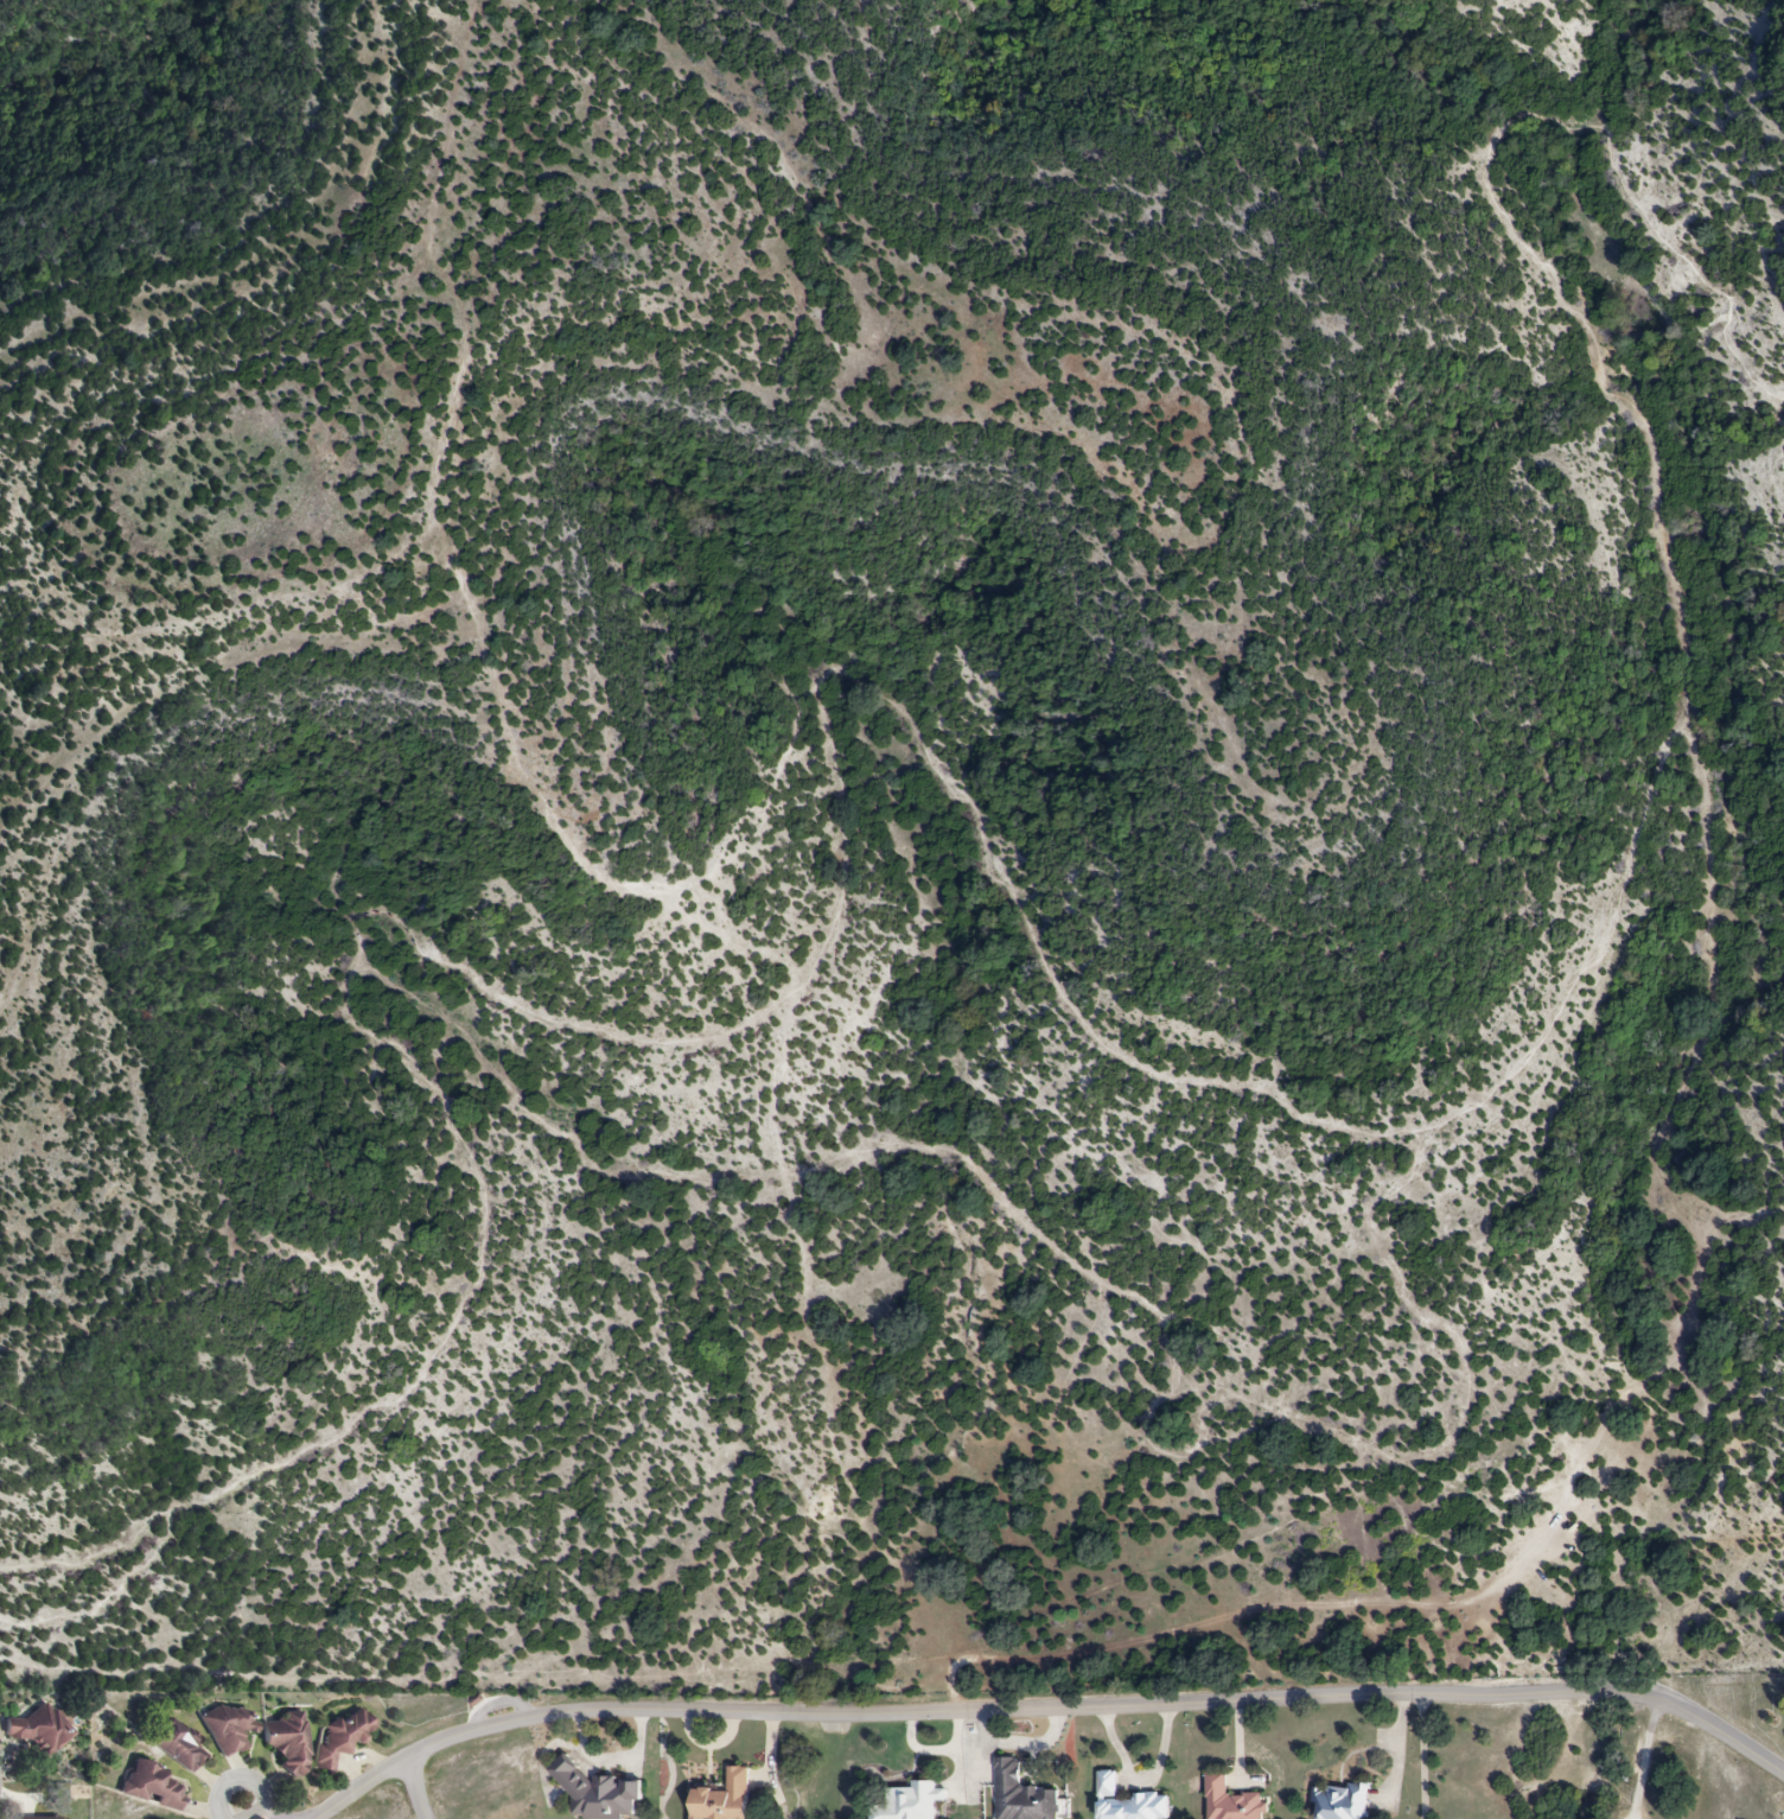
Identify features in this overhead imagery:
road: (1049, 1710)
building: (39, 1729)
building: (225, 1729)
building: (337, 1741)
building: (286, 1743)
building: (177, 1745)
road: (1425, 1756)
road: (1141, 1779)
road: (243, 1780)
building: (149, 1786)
road: (421, 1787)
building: (598, 1795)
building: (1020, 1795)
building: (721, 1799)
building: (905, 1801)
building: (1230, 1801)
building: (1127, 1802)
building: (1342, 1802)

